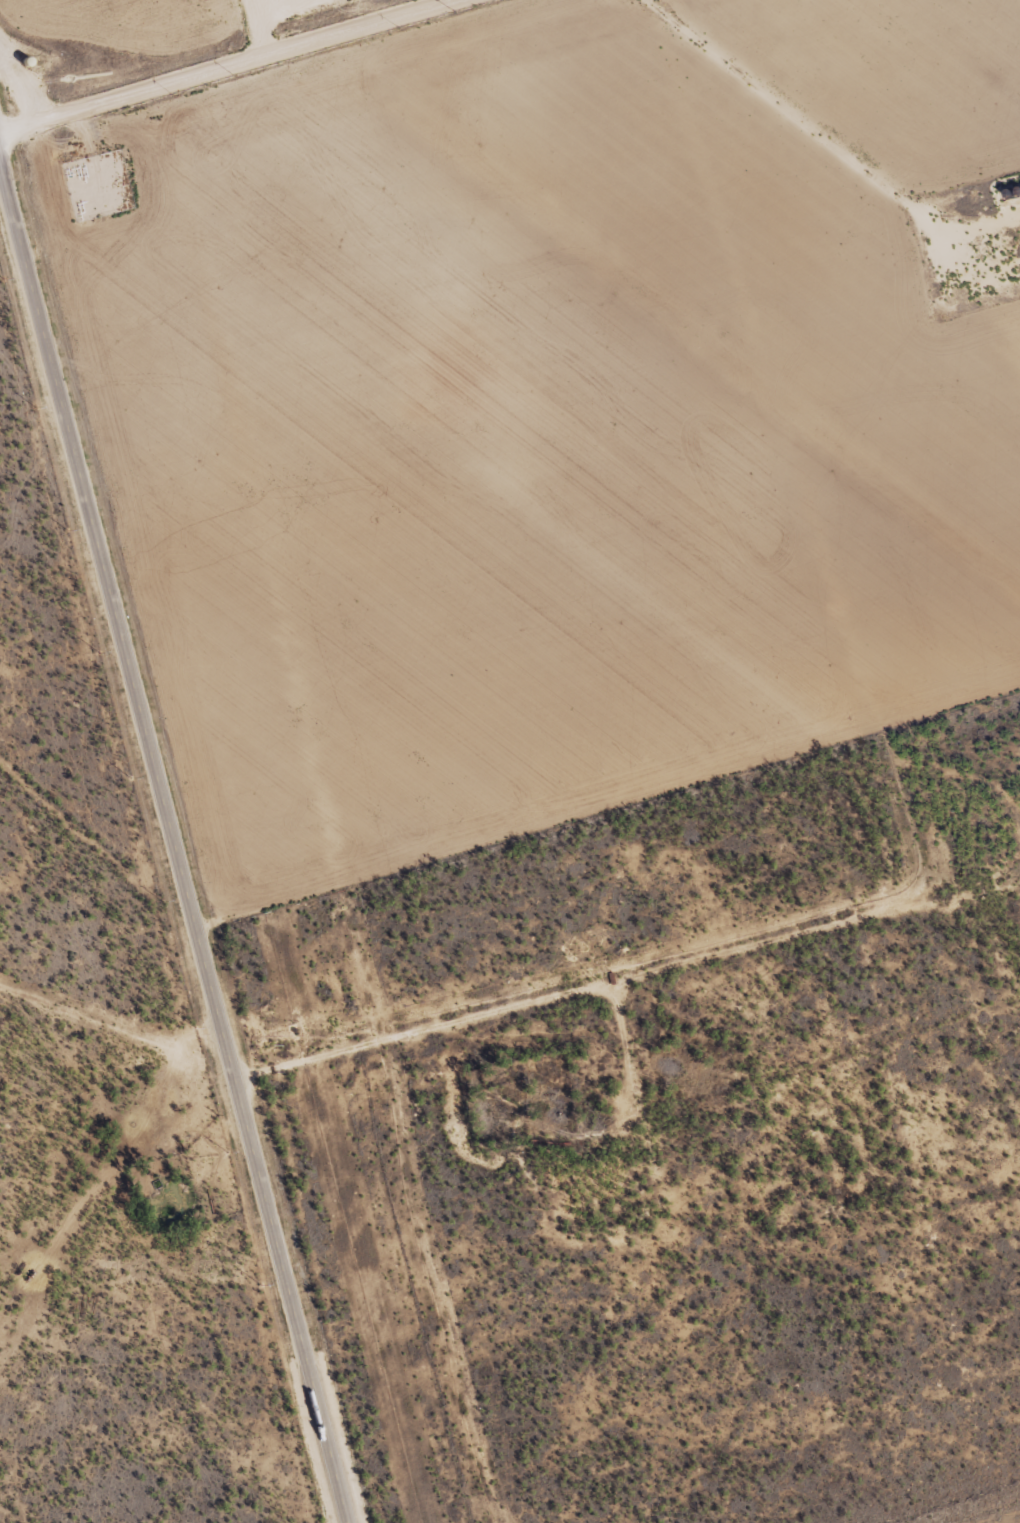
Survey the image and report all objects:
road: (233, 67)
road: (171, 854)

